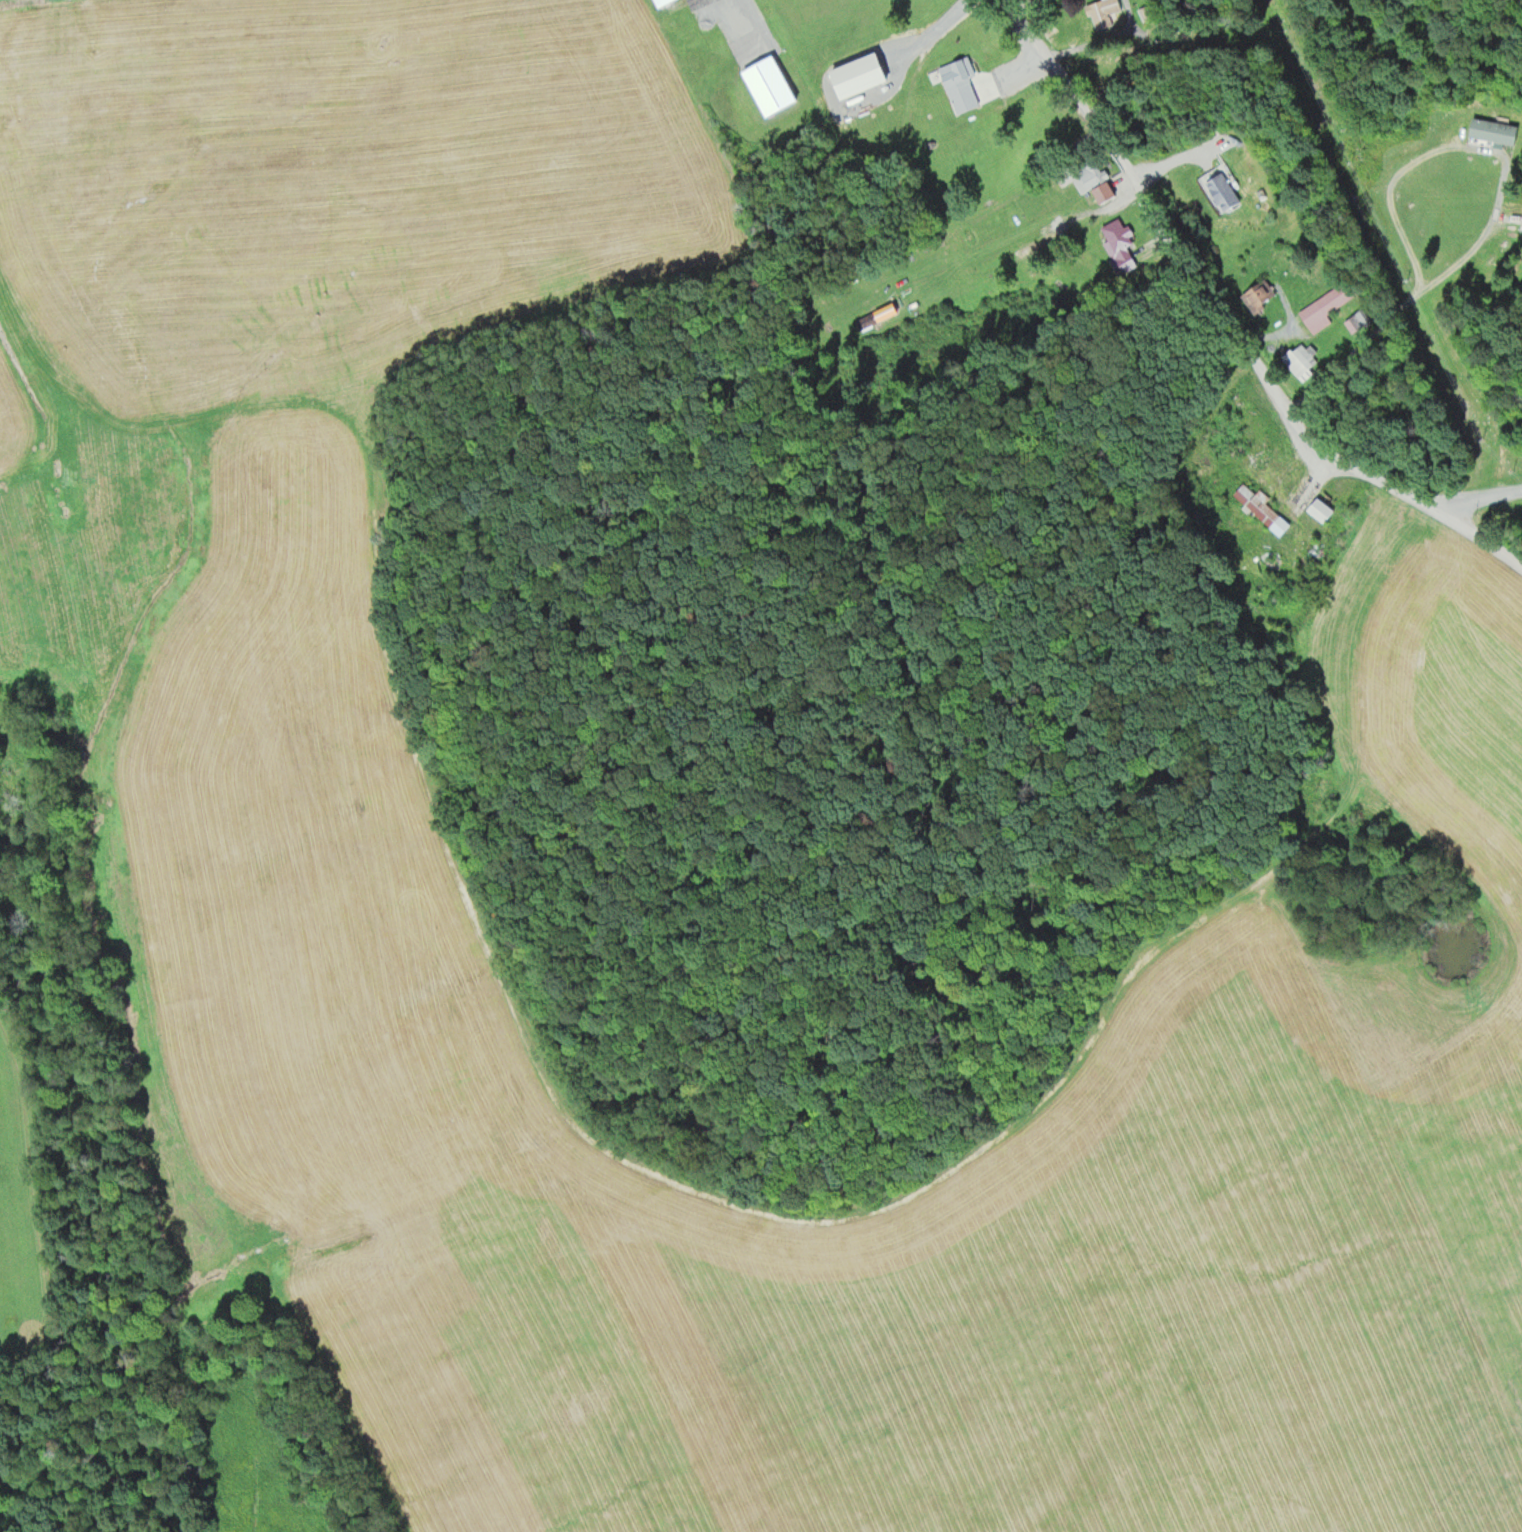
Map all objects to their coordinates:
building: (655, 2)
building: (1099, 13)
building: (851, 75)
building: (954, 83)
building: (1488, 130)
building: (1090, 180)
building: (1215, 189)
building: (1519, 220)
building: (1114, 238)
building: (1033, 246)
building: (1255, 294)
building: (1322, 306)
road: (1227, 323)
building: (1295, 361)
road: (1474, 496)
building: (1255, 508)
building: (1314, 510)

